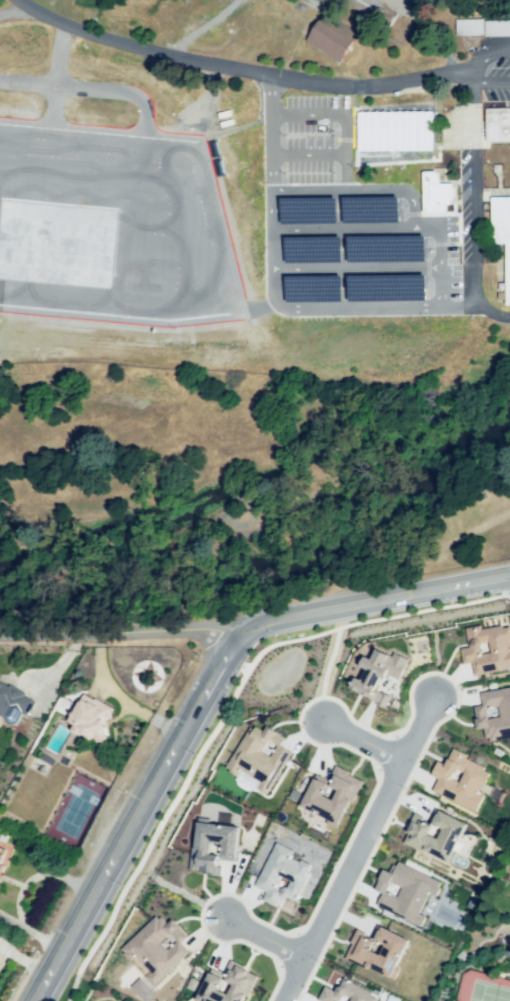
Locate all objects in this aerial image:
building: (479, 25)
road: (198, 29)
building: (328, 37)
parking lot: (486, 64)
road: (233, 66)
road: (300, 115)
building: (498, 121)
building: (394, 130)
road: (343, 133)
road: (269, 151)
road: (301, 154)
road: (384, 189)
building: (439, 195)
parking lot: (152, 196)
road: (473, 204)
road: (345, 229)
building: (500, 229)
road: (271, 266)
road: (355, 268)
road: (374, 308)
road: (375, 601)
road: (262, 603)
road: (120, 636)
building: (486, 648)
building: (376, 674)
building: (15, 697)
road: (221, 711)
building: (493, 713)
building: (89, 722)
road: (359, 740)
building: (258, 755)
building: (458, 779)
park: (188, 785)
building: (330, 795)
road: (138, 814)
building: (434, 835)
building: (211, 846)
road: (354, 848)
building: (2, 856)
building: (281, 875)
road: (20, 889)
building: (404, 892)
road: (261, 937)
building: (156, 946)
building: (375, 950)
building: (508, 956)
building: (225, 985)
building: (346, 993)

